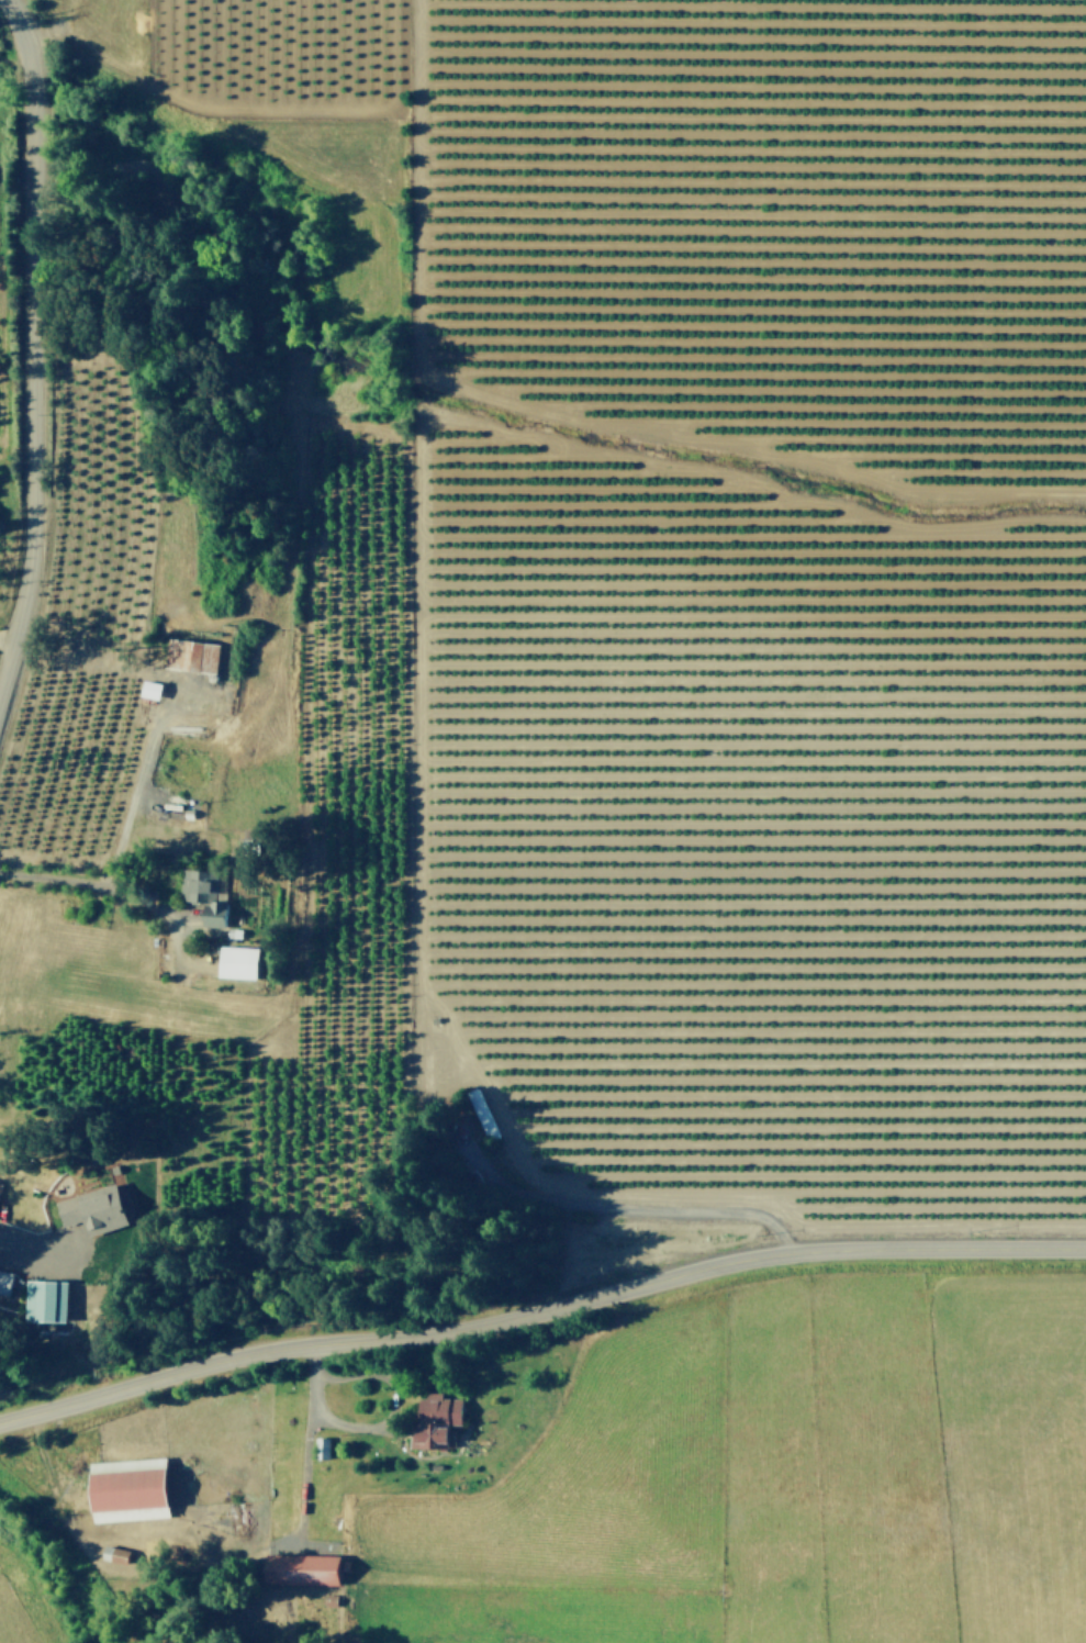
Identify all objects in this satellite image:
road: (31, 339)
road: (5, 636)
building: (188, 652)
crop: (542, 821)
road: (90, 880)
building: (201, 892)
building: (234, 959)
building: (480, 1113)
building: (1, 1189)
building: (90, 1207)
road: (30, 1238)
building: (3, 1278)
building: (29, 1299)
building: (54, 1303)
road: (539, 1306)
building: (432, 1417)
road: (380, 1421)
building: (317, 1445)
building: (124, 1487)
building: (112, 1552)
building: (298, 1566)

